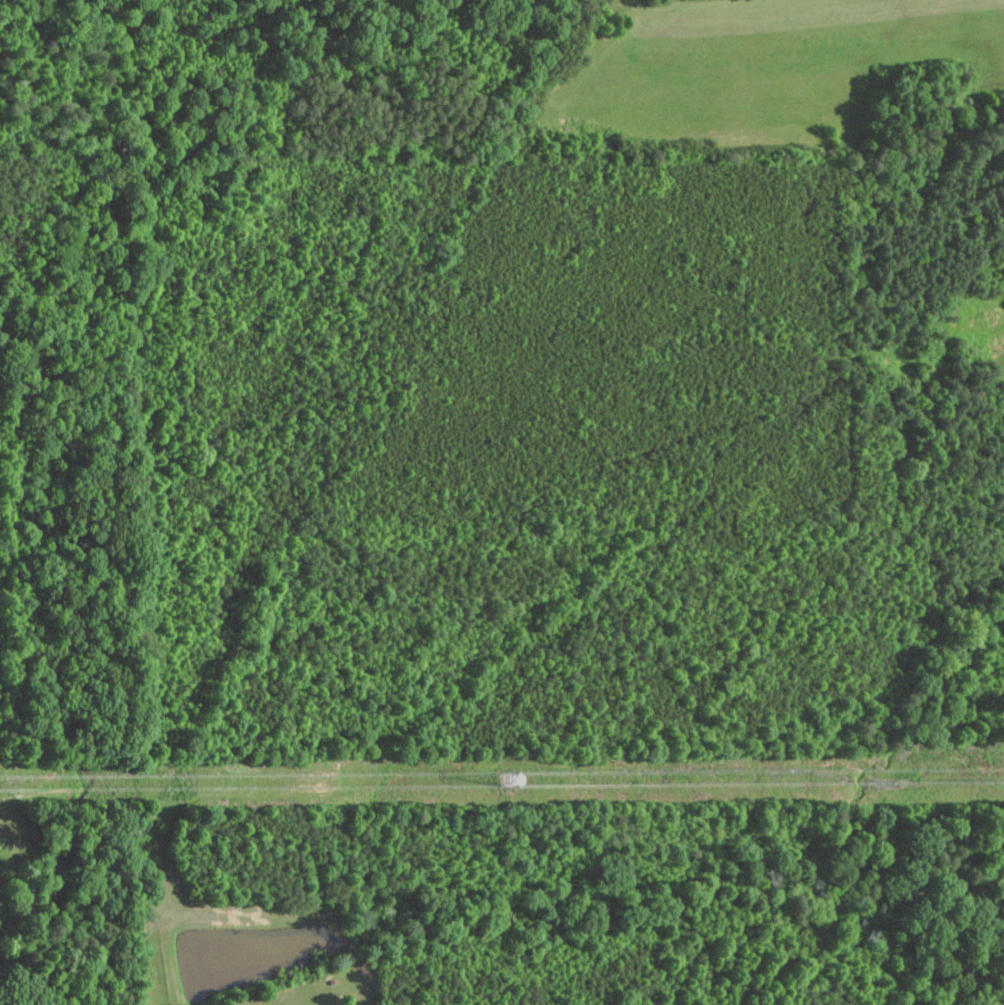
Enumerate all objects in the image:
power tower: (505, 780)

